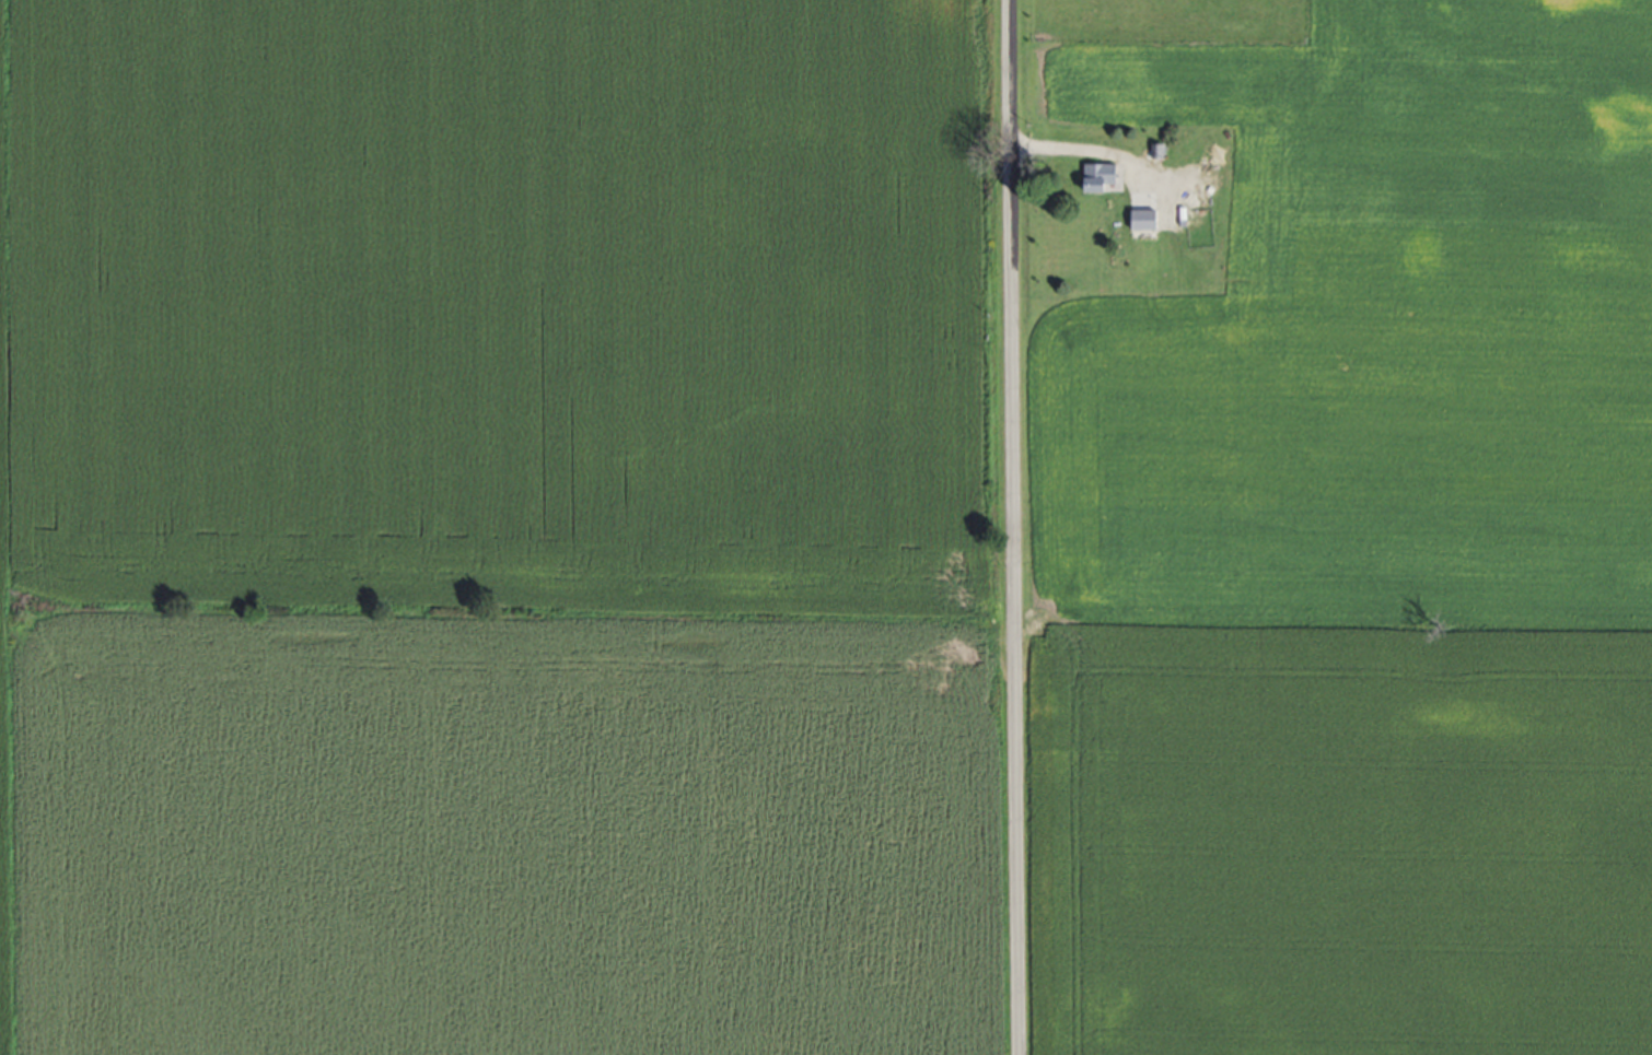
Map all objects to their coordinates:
road: (1089, 149)
building: (1103, 177)
building: (1149, 223)
road: (1014, 527)

